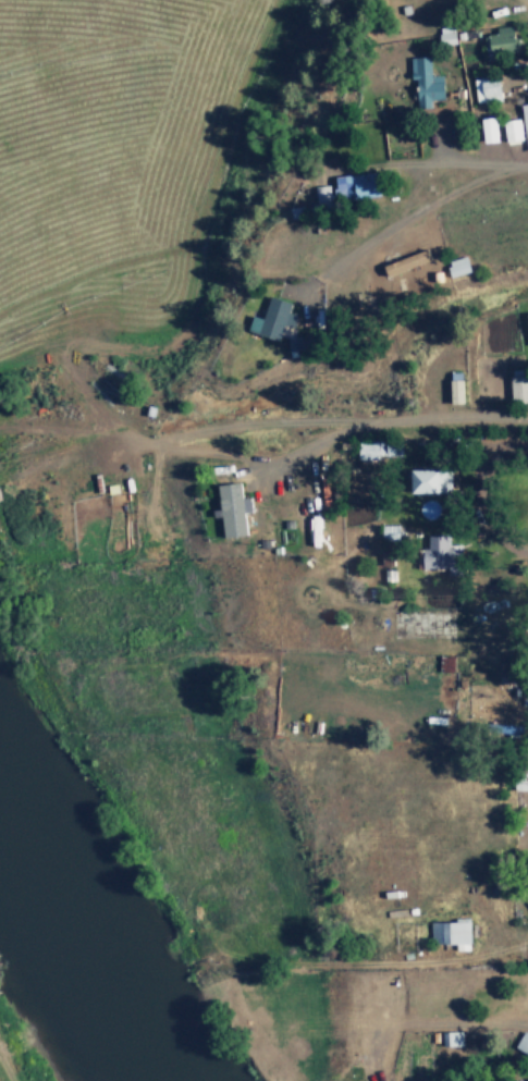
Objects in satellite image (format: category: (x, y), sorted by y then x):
building: (503, 40)
building: (427, 81)
building: (526, 118)
building: (502, 126)
road: (433, 138)
road: (525, 172)
building: (358, 184)
building: (323, 194)
road: (419, 237)
building: (459, 266)
building: (395, 279)
building: (273, 319)
building: (519, 386)
building: (458, 388)
road: (263, 421)
building: (372, 451)
building: (432, 480)
road: (487, 494)
building: (233, 508)
building: (442, 552)
building: (527, 788)
building: (452, 933)
building: (505, 950)
river: (49, 994)
building: (454, 1039)
building: (524, 1043)

